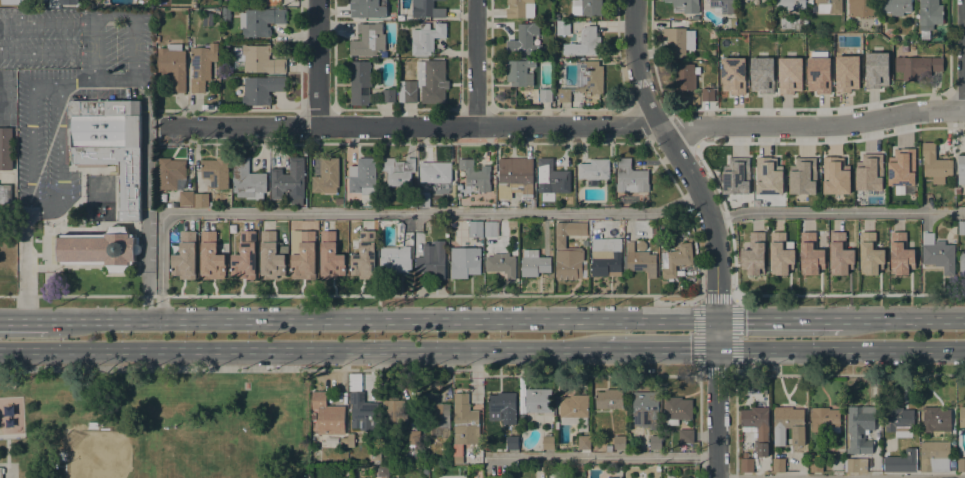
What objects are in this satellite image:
building: (13, 2)
building: (68, 2)
building: (549, 4)
building: (687, 5)
building: (721, 5)
building: (791, 6)
building: (826, 6)
building: (896, 6)
building: (591, 7)
building: (368, 8)
building: (516, 8)
building: (862, 8)
building: (427, 9)
building: (226, 14)
building: (557, 15)
building: (929, 16)
building: (401, 17)
road: (91, 21)
building: (260, 21)
building: (562, 27)
building: (426, 38)
building: (368, 40)
building: (525, 41)
building: (677, 41)
building: (585, 43)
building: (712, 52)
road: (964, 54)
building: (258, 60)
road: (475, 62)
road: (316, 63)
building: (173, 65)
building: (201, 66)
building: (917, 67)
building: (877, 68)
building: (520, 72)
building: (847, 72)
building: (818, 73)
building: (762, 74)
building: (732, 75)
building: (790, 75)
building: (685, 76)
building: (584, 80)
building: (432, 81)
building: (360, 82)
building: (401, 87)
building: (259, 89)
building: (708, 94)
building: (410, 95)
building: (545, 95)
building: (389, 96)
road: (1, 102)
road: (814, 124)
road: (406, 125)
road: (32, 131)
building: (109, 145)
building: (6, 149)
road: (61, 157)
building: (935, 164)
building: (593, 169)
building: (902, 169)
building: (961, 169)
building: (398, 172)
building: (215, 173)
building: (437, 173)
building: (869, 173)
road: (146, 174)
building: (172, 174)
building: (517, 174)
building: (475, 175)
building: (835, 175)
building: (362, 176)
building: (803, 176)
building: (326, 177)
building: (553, 177)
building: (768, 177)
building: (630, 178)
building: (736, 178)
building: (247, 180)
building: (289, 180)
building: (101, 185)
building: (438, 188)
building: (473, 189)
building: (903, 189)
building: (957, 190)
building: (5, 193)
building: (186, 198)
building: (200, 199)
building: (423, 199)
building: (339, 201)
building: (413, 202)
road: (836, 211)
road: (381, 212)
building: (511, 224)
building: (664, 225)
building: (961, 227)
building: (475, 228)
building: (491, 228)
building: (620, 229)
road: (712, 230)
building: (569, 231)
building: (435, 240)
building: (641, 245)
building: (99, 249)
building: (780, 253)
building: (810, 253)
building: (840, 253)
building: (870, 253)
building: (753, 254)
building: (937, 254)
building: (185, 256)
building: (244, 256)
building: (330, 256)
building: (211, 257)
building: (271, 257)
building: (304, 257)
building: (364, 257)
building: (901, 258)
building: (395, 259)
building: (606, 260)
building: (675, 260)
building: (465, 261)
building: (640, 261)
building: (962, 261)
road: (26, 262)
building: (533, 263)
building: (431, 264)
building: (501, 264)
building: (570, 264)
road: (351, 294)
road: (849, 295)
road: (701, 297)
road: (23, 319)
road: (381, 319)
traffic signals: (716, 319)
road: (778, 319)
road: (902, 319)
road: (840, 347)
road: (302, 348)
road: (660, 348)
traffic signals: (716, 348)
road: (161, 368)
road: (850, 373)
building: (609, 399)
building: (538, 400)
building: (502, 401)
building: (646, 404)
building: (574, 406)
building: (676, 409)
building: (363, 412)
building: (393, 414)
building: (328, 415)
building: (436, 415)
building: (962, 417)
building: (824, 418)
building: (899, 419)
building: (936, 419)
building: (465, 421)
building: (755, 421)
park: (154, 425)
building: (788, 425)
building: (862, 428)
building: (686, 436)
building: (349, 439)
building: (413, 439)
building: (512, 442)
building: (548, 442)
building: (584, 442)
building: (619, 442)
building: (655, 442)
building: (885, 443)
building: (608, 448)
building: (762, 450)
building: (376, 455)
road: (642, 456)
building: (936, 457)
building: (902, 461)
building: (816, 462)
building: (746, 463)
building: (960, 464)
building: (778, 465)
building: (857, 465)
building: (384, 470)
building: (425, 470)
building: (1, 472)
building: (384, 476)
building: (615, 477)

